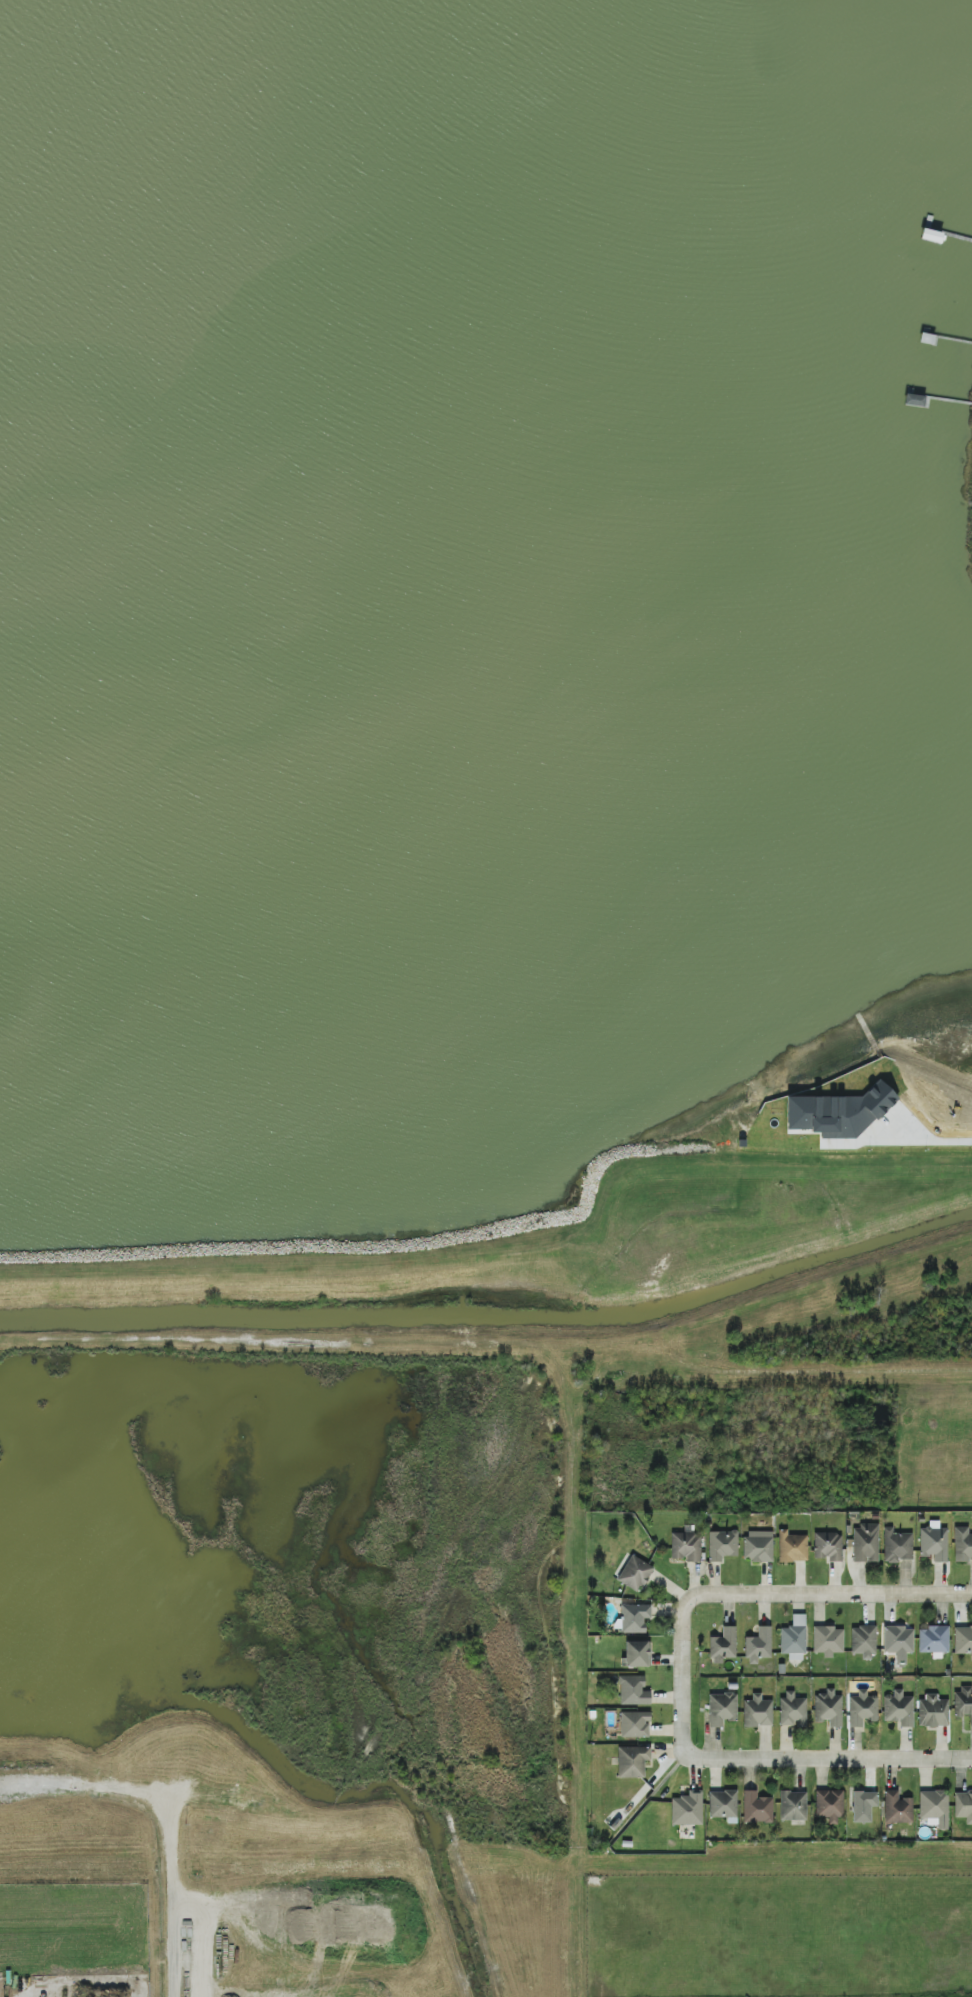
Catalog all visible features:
building: (839, 1112)
road: (928, 1128)
building: (933, 1542)
building: (865, 1543)
building: (962, 1544)
building: (722, 1545)
building: (686, 1546)
building: (758, 1546)
building: (827, 1546)
building: (897, 1546)
building: (792, 1547)
building: (634, 1573)
road: (834, 1594)
building: (634, 1618)
building: (793, 1638)
building: (933, 1639)
building: (963, 1640)
building: (828, 1641)
building: (863, 1642)
building: (898, 1642)
building: (723, 1645)
building: (758, 1645)
building: (637, 1654)
road: (685, 1671)
building: (632, 1691)
building: (963, 1703)
building: (828, 1708)
building: (721, 1709)
building: (792, 1709)
building: (862, 1709)
building: (898, 1709)
building: (932, 1711)
building: (757, 1712)
building: (634, 1724)
road: (829, 1759)
building: (632, 1761)
building: (723, 1805)
building: (829, 1805)
building: (792, 1806)
building: (863, 1806)
building: (963, 1806)
building: (756, 1808)
building: (897, 1808)
building: (934, 1808)
building: (687, 1809)

